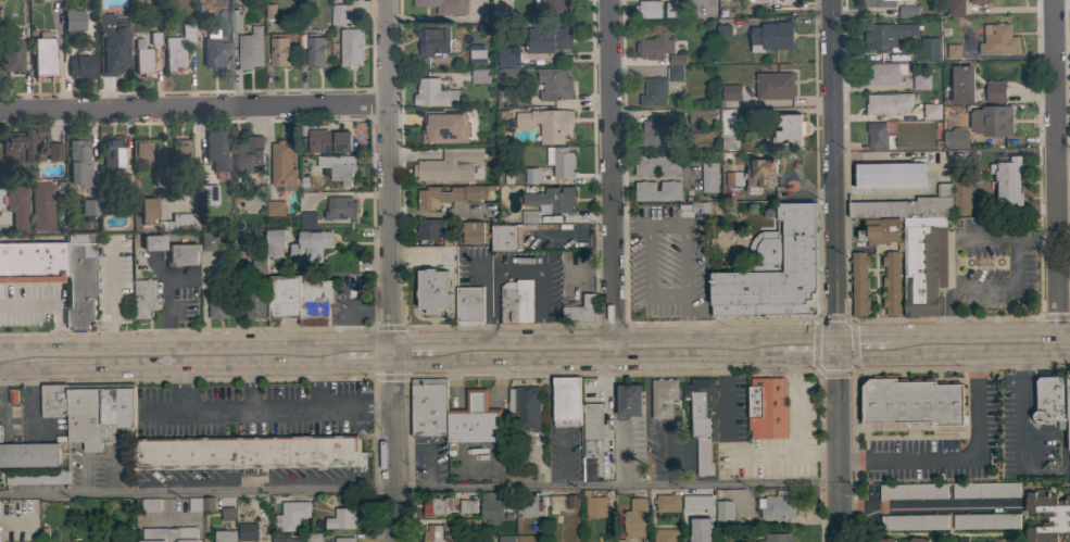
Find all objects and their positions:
building: (242, 0)
building: (897, 0)
building: (771, 1)
building: (979, 1)
building: (879, 3)
building: (443, 5)
building: (553, 5)
building: (955, 8)
building: (675, 9)
building: (303, 10)
building: (649, 10)
building: (906, 11)
building: (270, 12)
building: (338, 14)
building: (73, 21)
building: (723, 31)
building: (888, 35)
building: (772, 37)
building: (547, 39)
building: (998, 40)
building: (433, 41)
building: (112, 43)
building: (351, 47)
building: (655, 47)
building: (177, 48)
building: (250, 49)
building: (280, 49)
building: (929, 49)
building: (214, 50)
building: (315, 50)
building: (953, 51)
building: (476, 53)
building: (12, 54)
building: (43, 55)
road: (60, 55)
building: (508, 56)
building: (141, 58)
building: (677, 60)
building: (80, 66)
building: (675, 74)
building: (885, 74)
building: (480, 76)
building: (505, 76)
building: (920, 81)
building: (554, 84)
building: (962, 84)
building: (775, 86)
building: (995, 91)
building: (654, 92)
building: (731, 92)
building: (433, 94)
building: (889, 103)
road: (196, 105)
building: (932, 111)
building: (701, 117)
building: (994, 122)
building: (547, 124)
building: (448, 126)
building: (727, 129)
building: (788, 129)
building: (654, 133)
building: (879, 136)
building: (955, 138)
building: (700, 140)
building: (328, 141)
building: (17, 147)
building: (216, 148)
building: (180, 150)
building: (54, 151)
building: (140, 151)
building: (112, 154)
building: (471, 154)
building: (248, 156)
road: (1063, 161)
building: (561, 162)
building: (78, 163)
building: (282, 165)
building: (657, 165)
building: (338, 168)
building: (429, 169)
road: (1058, 172)
road: (834, 174)
road: (617, 175)
building: (891, 175)
building: (162, 176)
road: (392, 176)
building: (531, 176)
building: (752, 176)
building: (709, 177)
building: (1008, 180)
building: (127, 182)
building: (657, 190)
building: (206, 192)
building: (450, 196)
building: (960, 198)
building: (551, 200)
building: (90, 202)
building: (17, 206)
building: (41, 206)
building: (339, 207)
building: (275, 209)
building: (148, 210)
building: (701, 210)
building: (530, 216)
building: (307, 219)
building: (178, 222)
building: (792, 223)
road: (632, 224)
building: (429, 228)
building: (880, 230)
building: (473, 231)
building: (506, 237)
road: (580, 239)
road: (1008, 239)
building: (207, 241)
building: (275, 241)
building: (153, 242)
road: (685, 242)
building: (916, 244)
building: (309, 247)
building: (182, 254)
building: (32, 262)
building: (259, 266)
road: (646, 278)
building: (80, 280)
building: (769, 281)
building: (858, 283)
building: (891, 283)
road: (1011, 288)
building: (433, 290)
building: (144, 298)
building: (300, 299)
road: (108, 302)
building: (253, 302)
building: (516, 302)
road: (56, 303)
building: (219, 304)
building: (469, 306)
building: (580, 310)
road: (948, 315)
road: (689, 323)
road: (982, 344)
road: (867, 346)
road: (785, 348)
road: (815, 348)
traffic signals: (838, 348)
road: (612, 351)
road: (418, 353)
road: (366, 354)
road: (180, 357)
road: (10, 360)
road: (322, 383)
road: (250, 386)
building: (11, 398)
building: (664, 398)
building: (629, 399)
building: (53, 400)
building: (566, 401)
road: (793, 401)
building: (1052, 401)
building: (911, 402)
building: (428, 406)
building: (525, 407)
building: (1068, 407)
building: (766, 408)
building: (116, 411)
road: (257, 414)
building: (85, 417)
road: (612, 418)
building: (701, 419)
building: (475, 420)
road: (1019, 425)
building: (592, 431)
building: (0, 433)
road: (838, 444)
road: (393, 448)
building: (248, 452)
road: (733, 453)
building: (29, 454)
road: (961, 457)
building: (37, 478)
road: (419, 488)
building: (985, 490)
building: (912, 491)
building: (572, 502)
building: (668, 503)
building: (697, 503)
building: (194, 504)
building: (209, 504)
building: (150, 505)
building: (528, 505)
building: (594, 505)
building: (435, 506)
building: (467, 506)
building: (778, 506)
building: (490, 507)
building: (723, 513)
building: (227, 514)
building: (291, 515)
building: (572, 518)
building: (635, 518)
building: (1047, 518)
building: (342, 519)
building: (985, 521)
building: (914, 522)
building: (701, 530)
building: (248, 531)
building: (442, 533)
building: (169, 534)
building: (665, 534)
building: (225, 535)
building: (312, 537)
building: (779, 538)
building: (505, 539)
building: (344, 540)
building: (884, 540)
building: (917, 540)
building: (286, 541)

